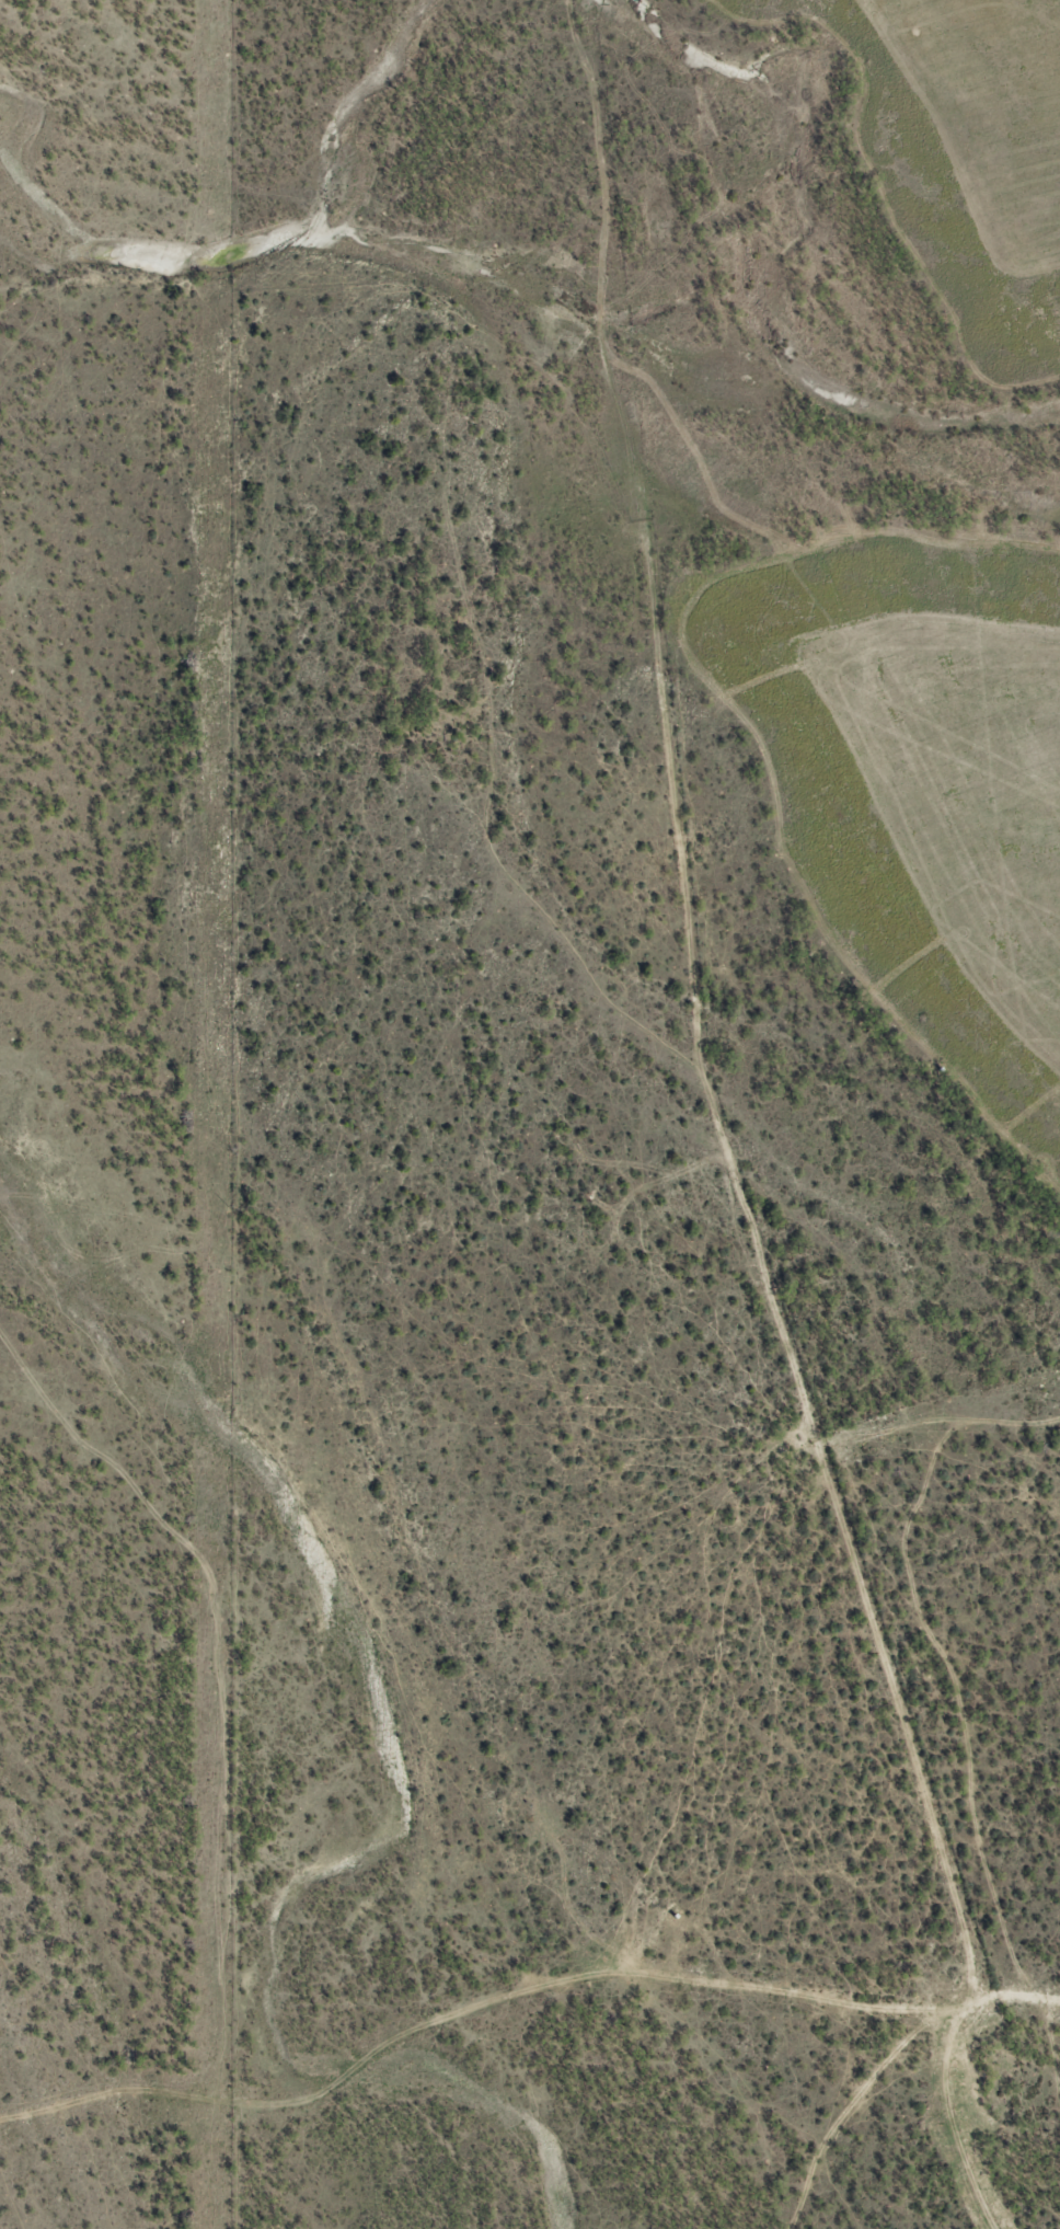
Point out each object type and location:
road: (497, 1988)
road: (915, 2130)

